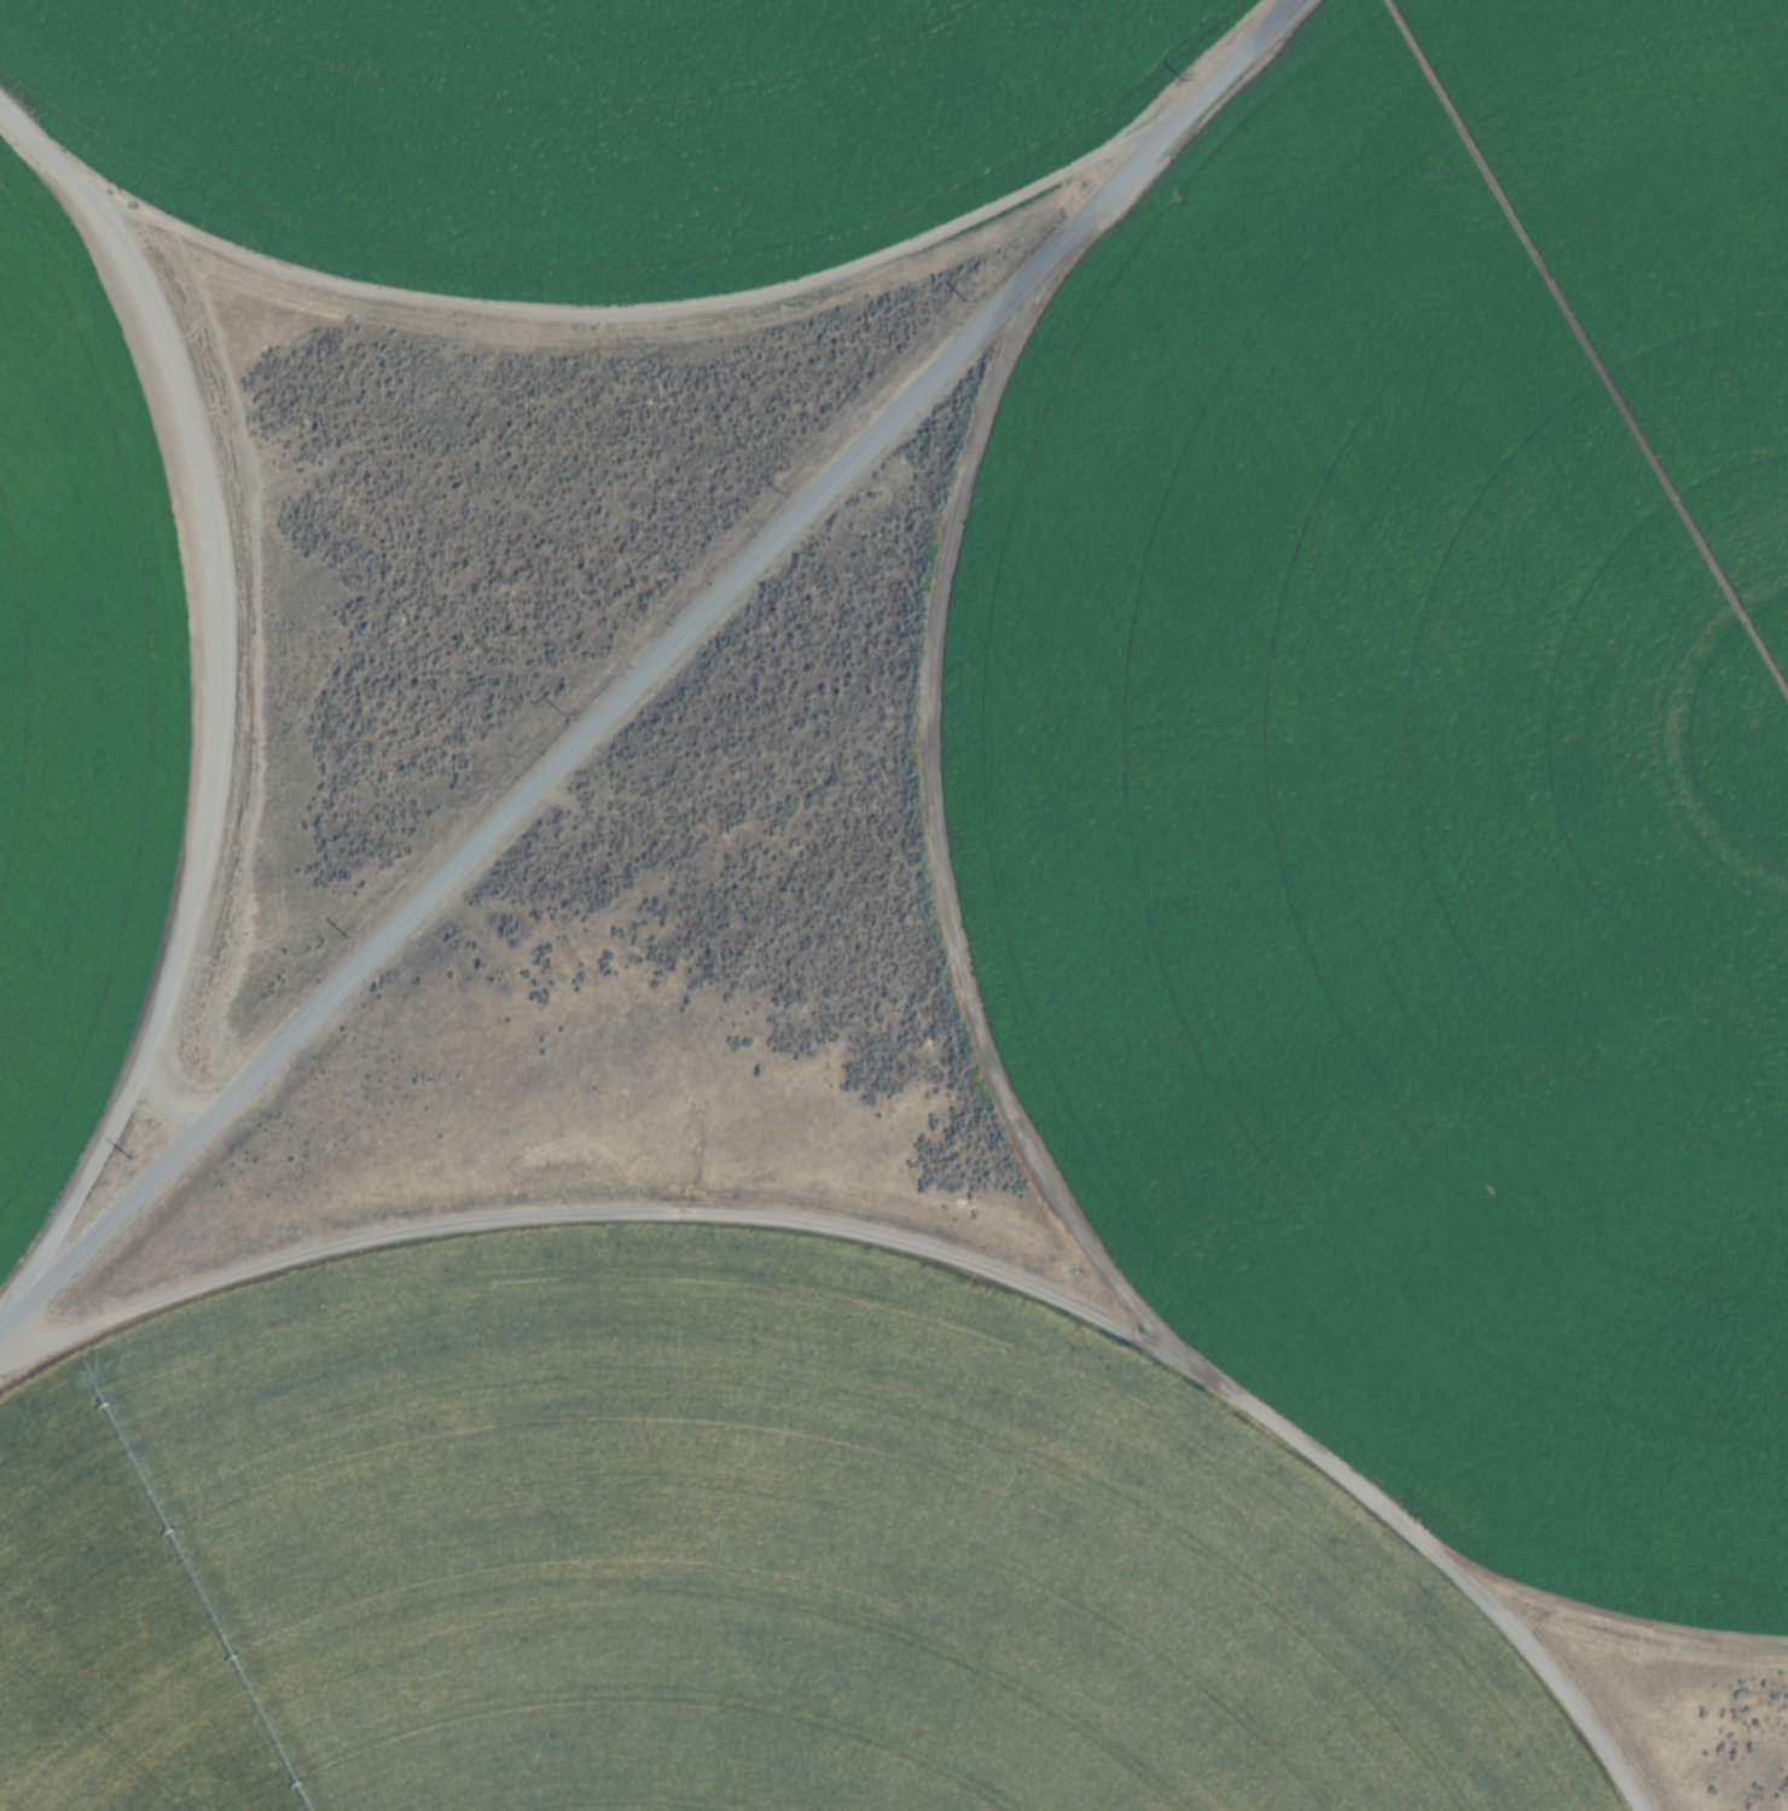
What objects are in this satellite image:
road: (651, 669)

